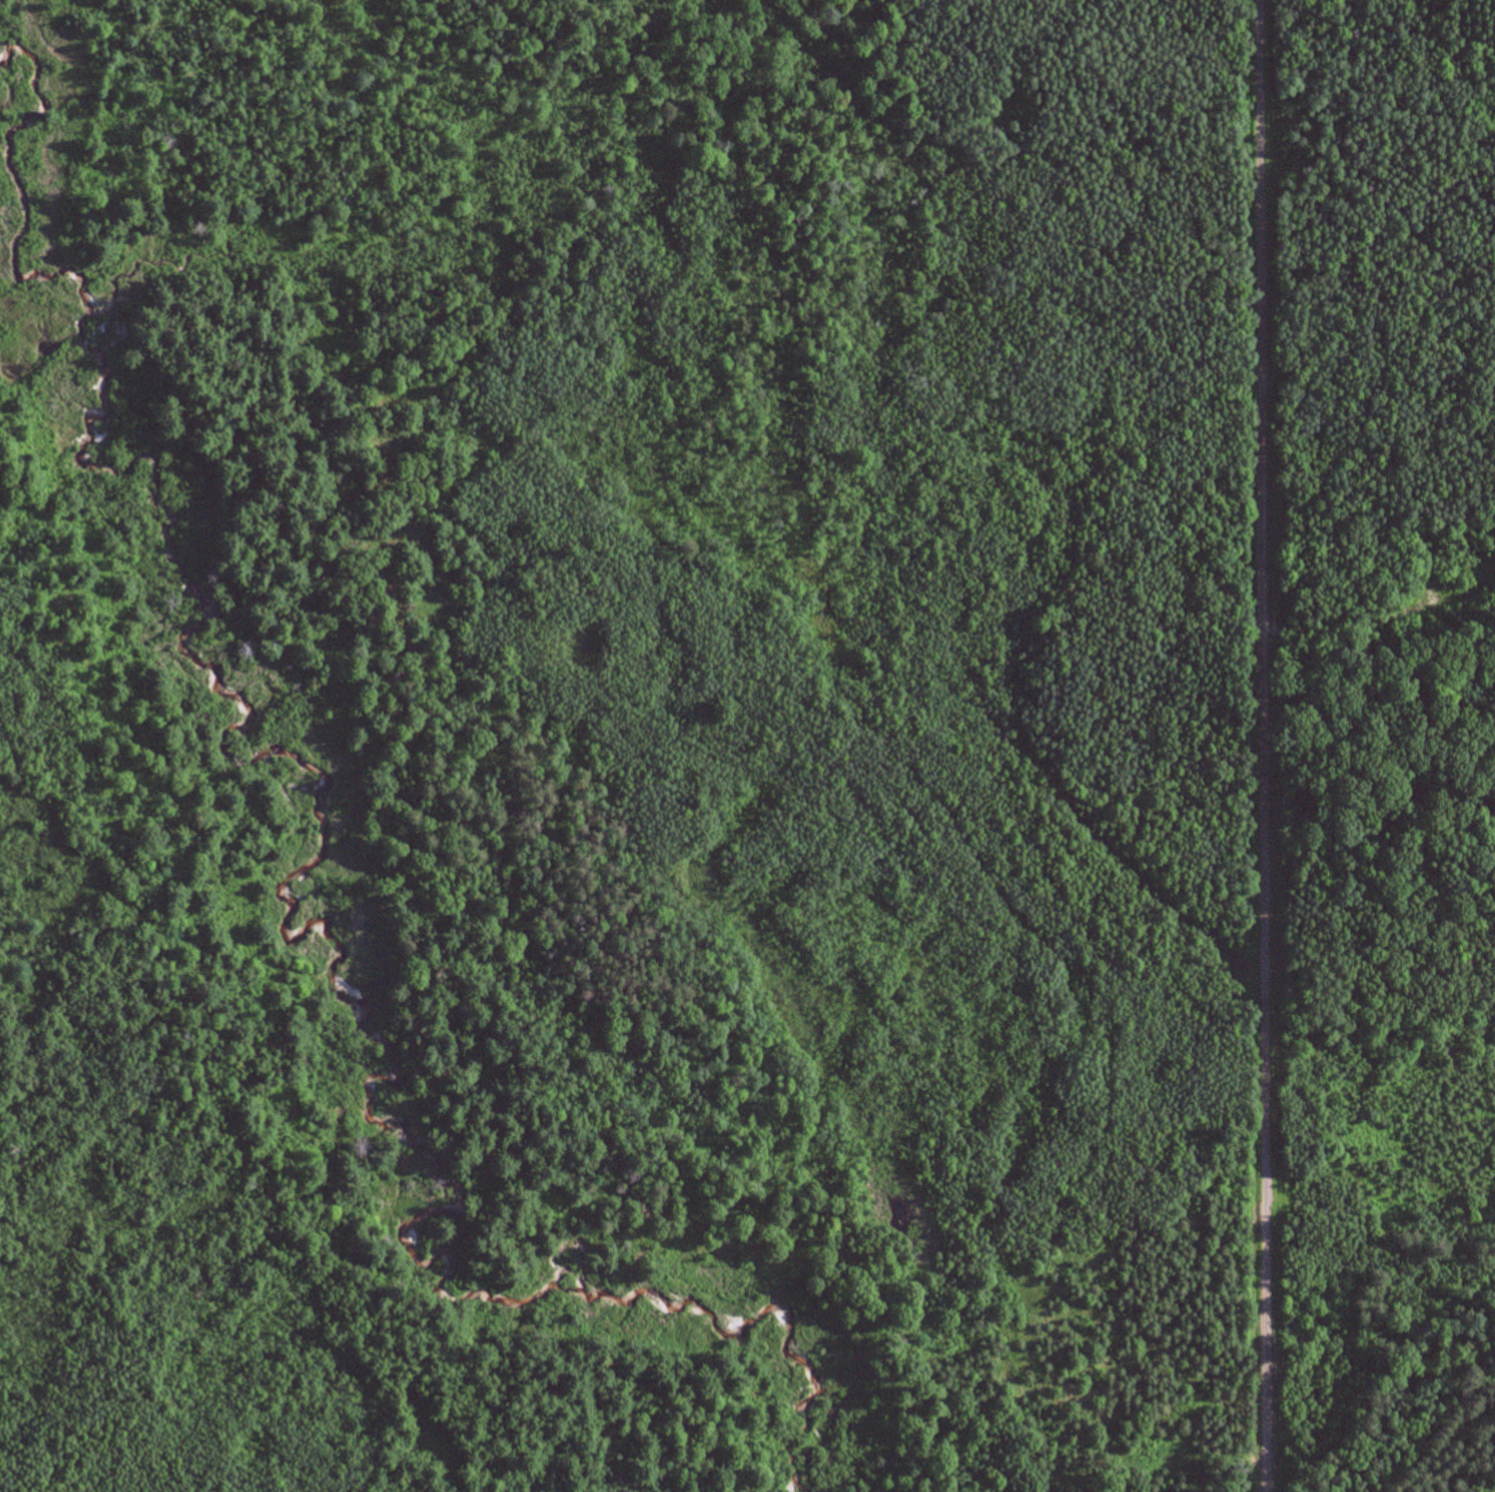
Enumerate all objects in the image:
road: (1259, 746)

